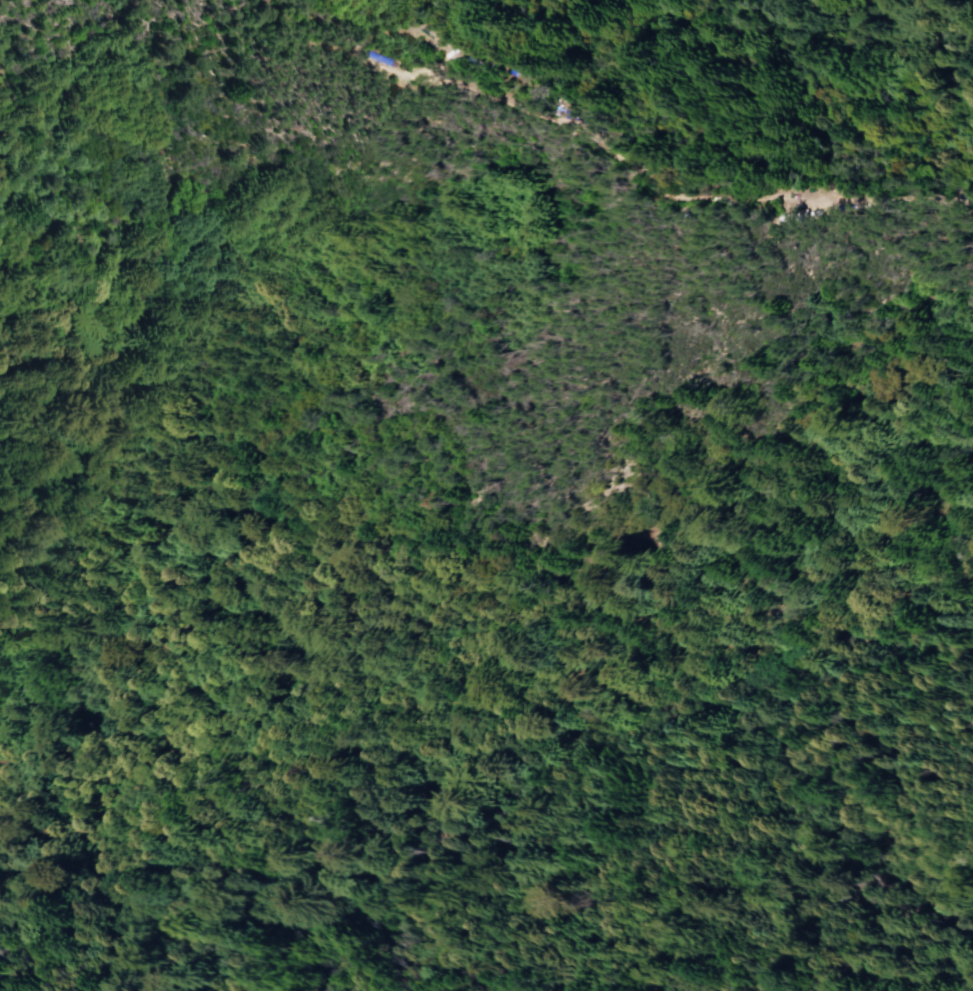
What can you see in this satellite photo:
road: (411, 28)
building: (386, 59)
road: (613, 142)

